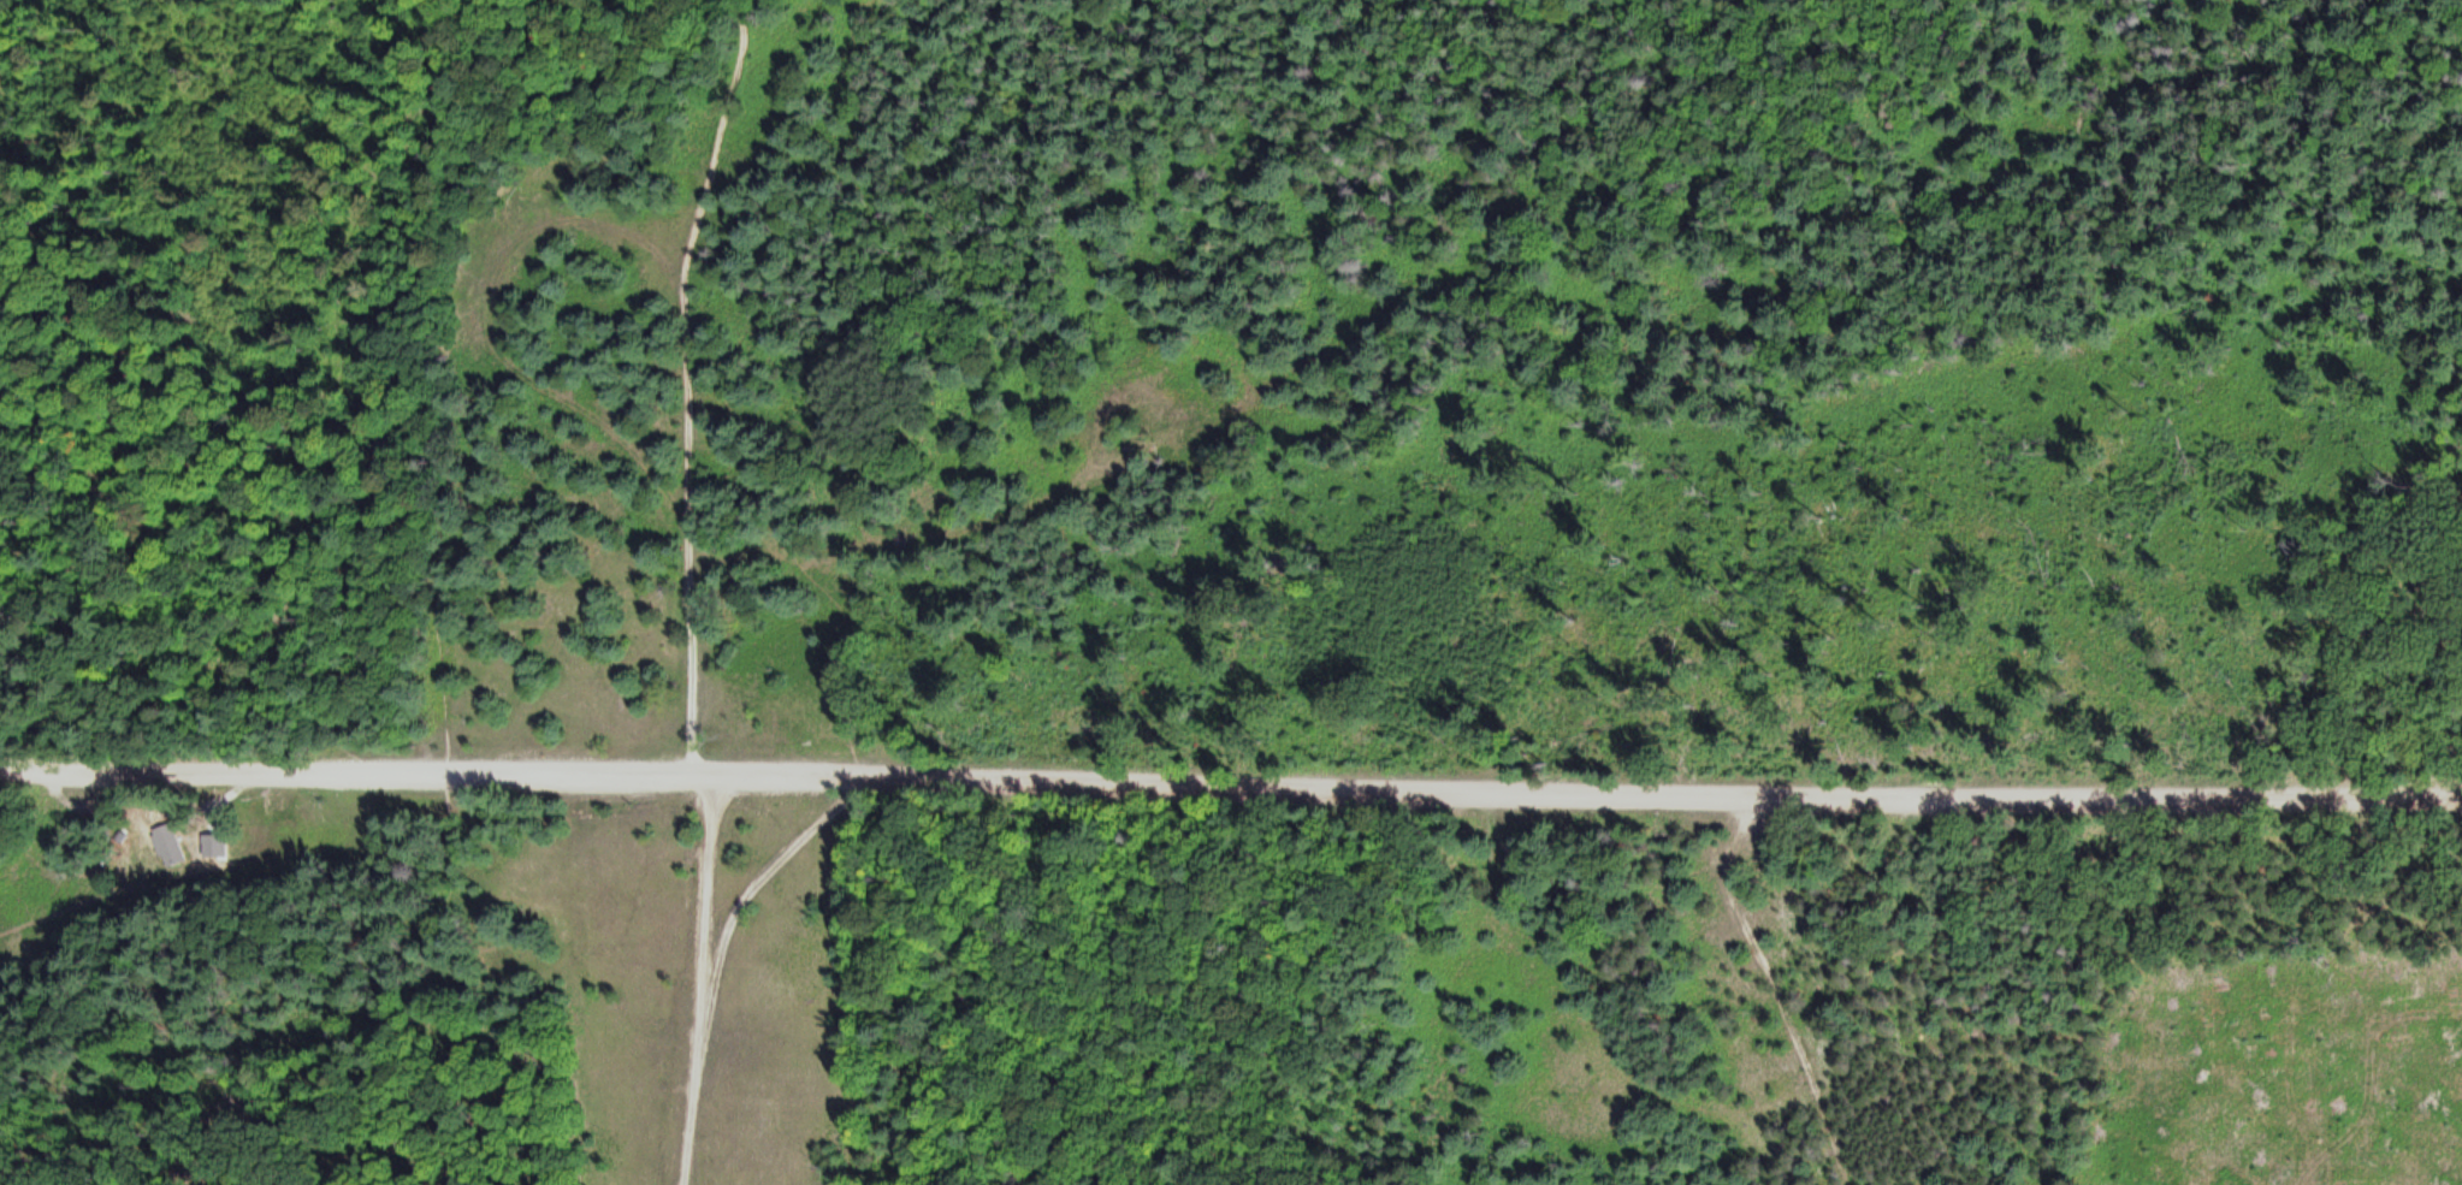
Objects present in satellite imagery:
road: (209, 109)
road: (686, 379)
road: (805, 570)
road: (1230, 780)
building: (171, 852)
road: (756, 885)
road: (702, 976)
road: (1774, 982)

